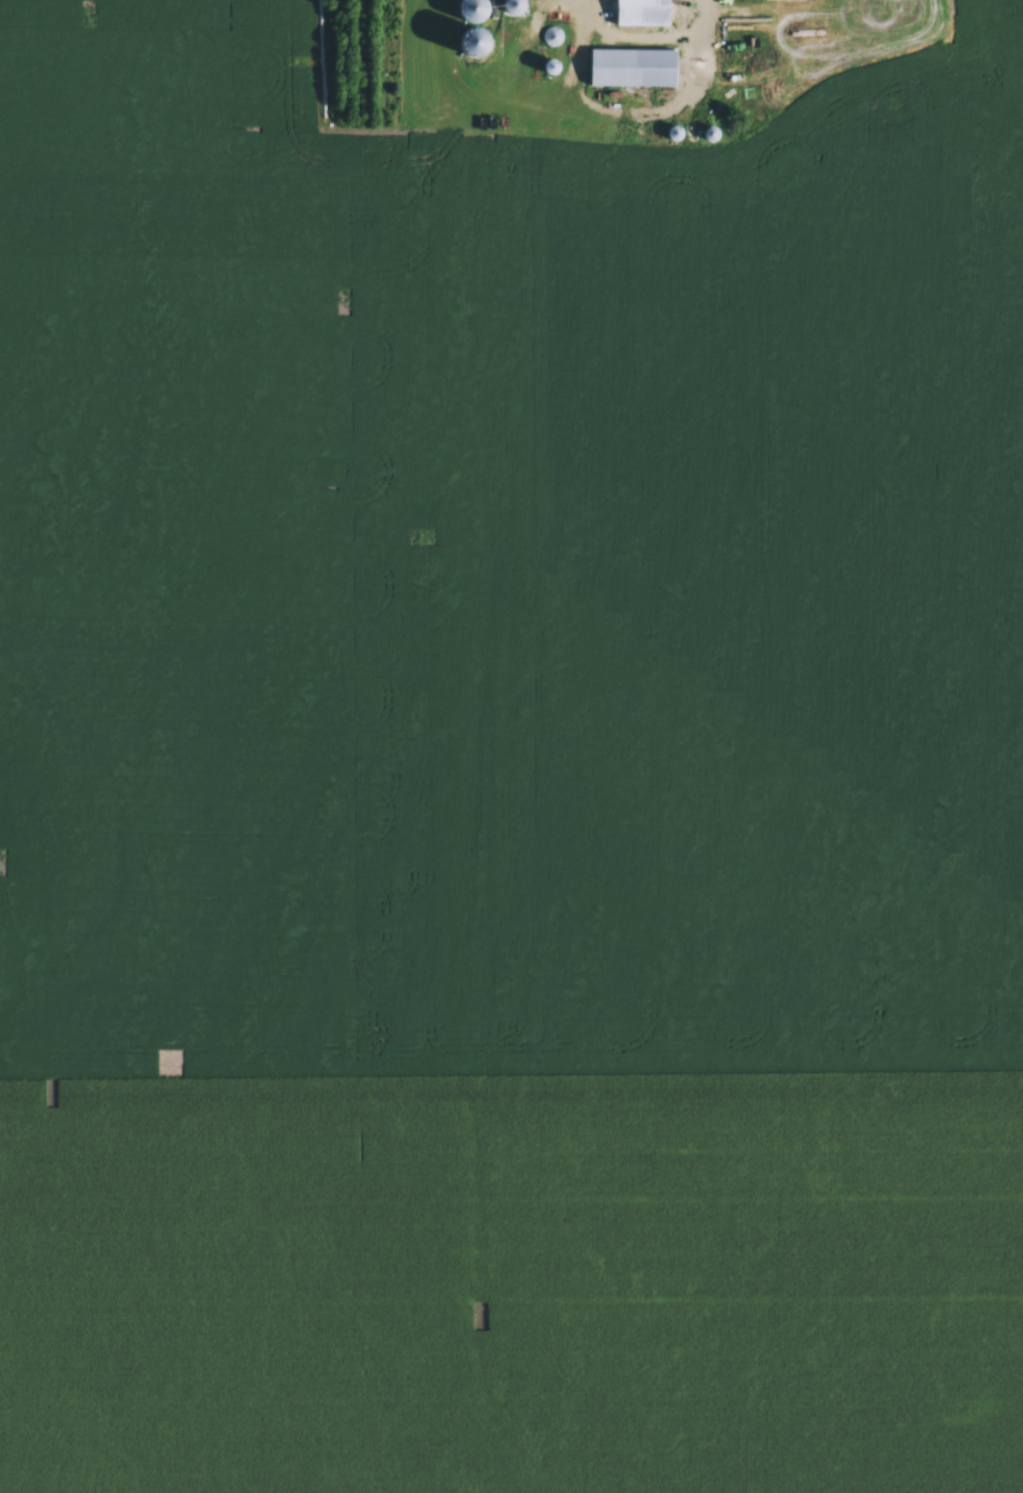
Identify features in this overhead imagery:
building: (514, 8)
building: (472, 12)
building: (642, 14)
building: (552, 39)
building: (475, 46)
building: (633, 70)

